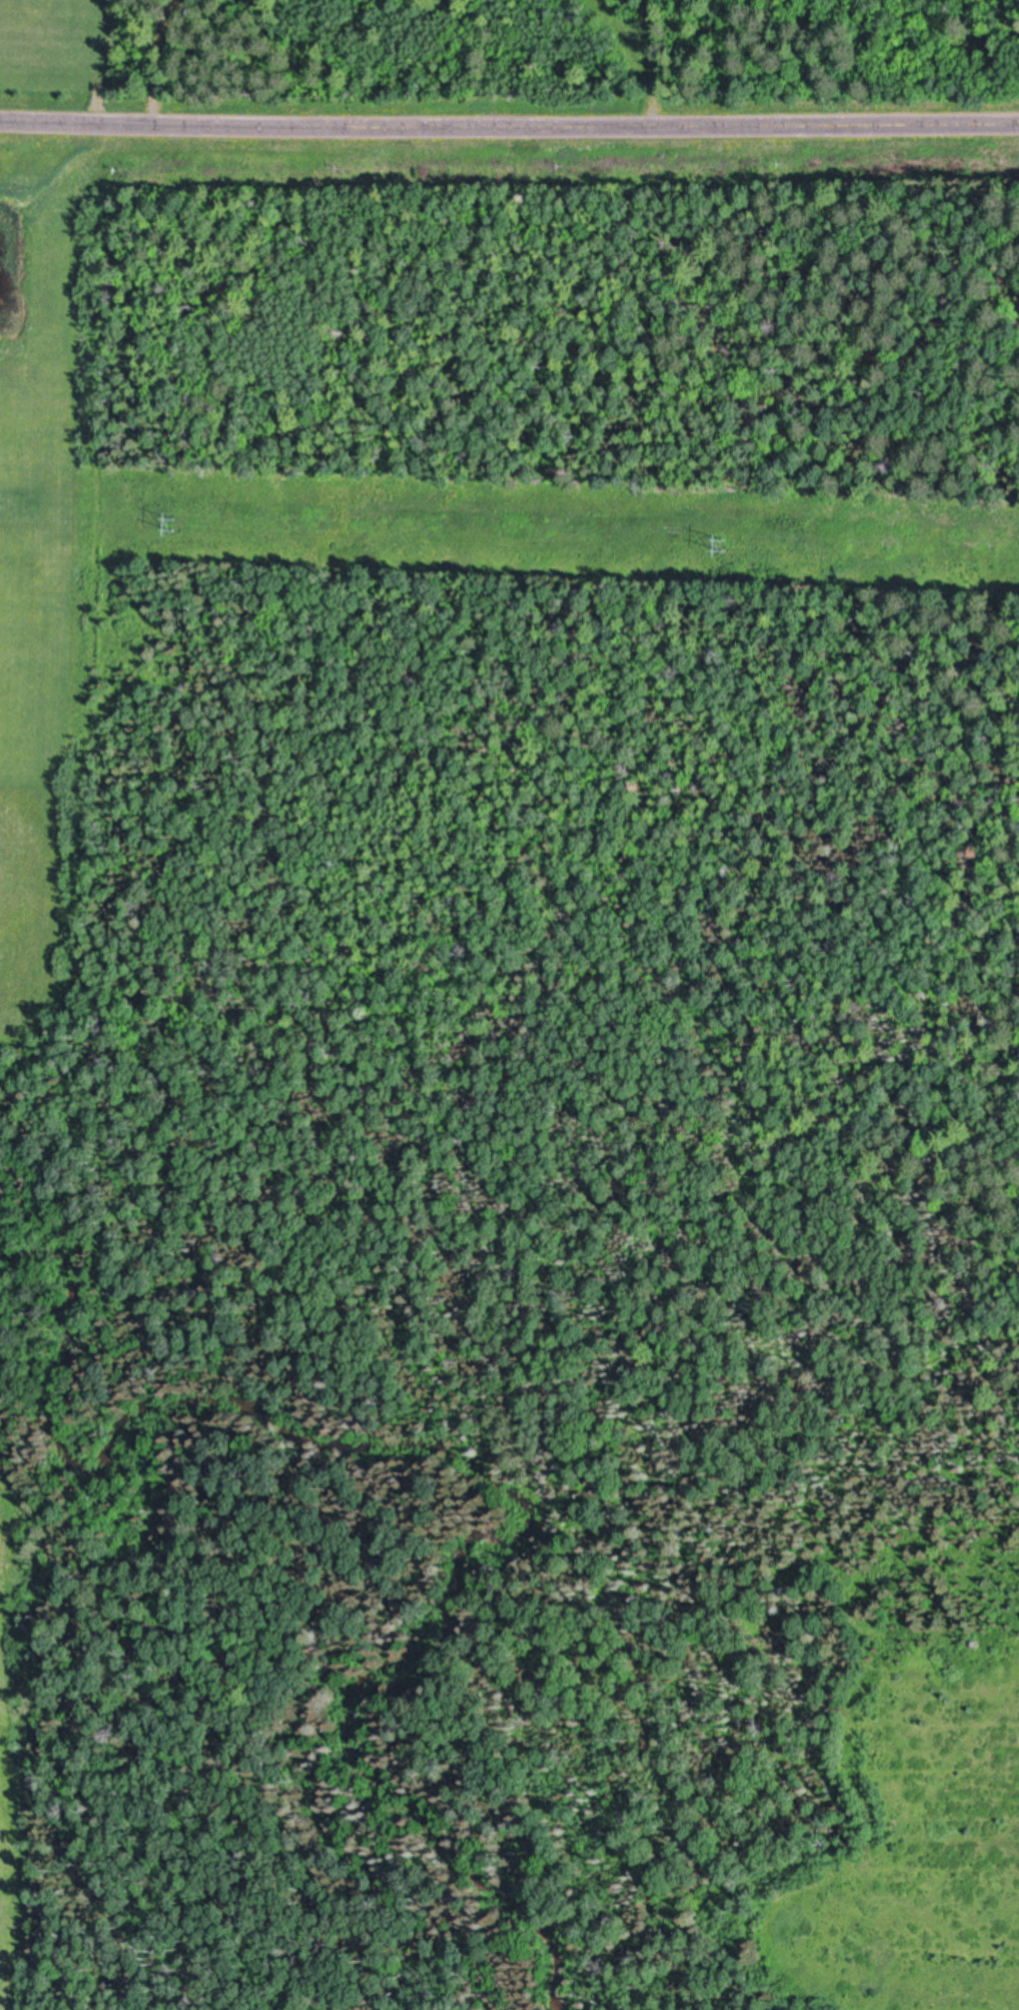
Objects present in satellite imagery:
road: (509, 126)
power tower: (166, 526)
power tower: (733, 546)
river: (509, 1466)

